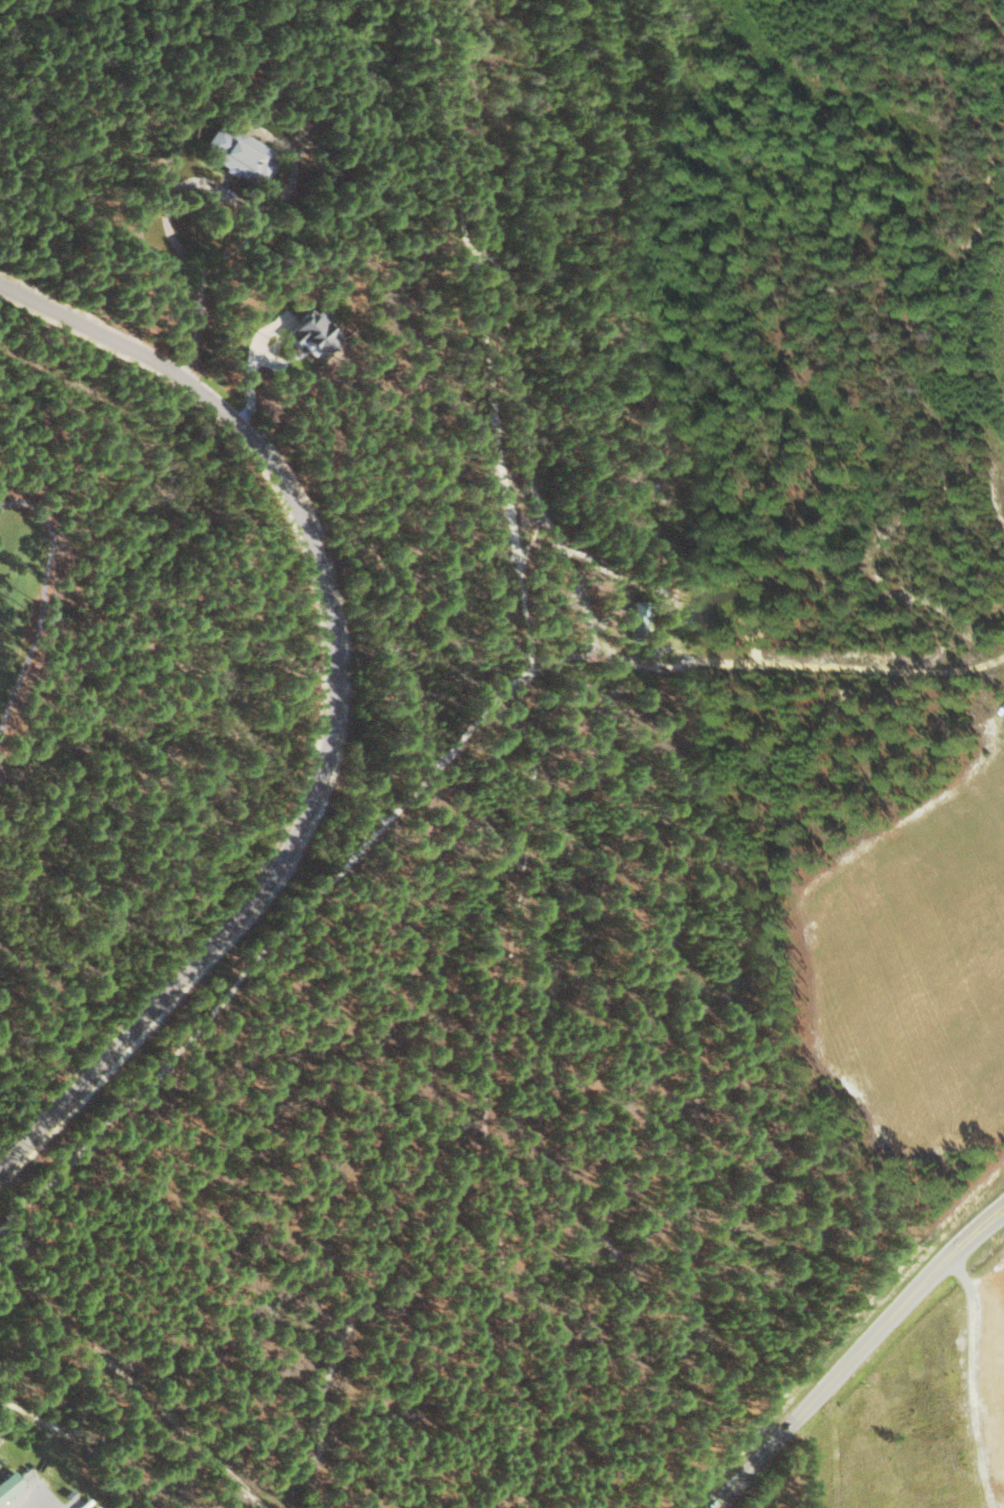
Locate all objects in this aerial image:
building: (240, 155)
road: (167, 199)
building: (313, 333)
park: (31, 589)
building: (639, 619)
road: (496, 699)
road: (337, 705)
road: (859, 1353)
building: (9, 1484)

